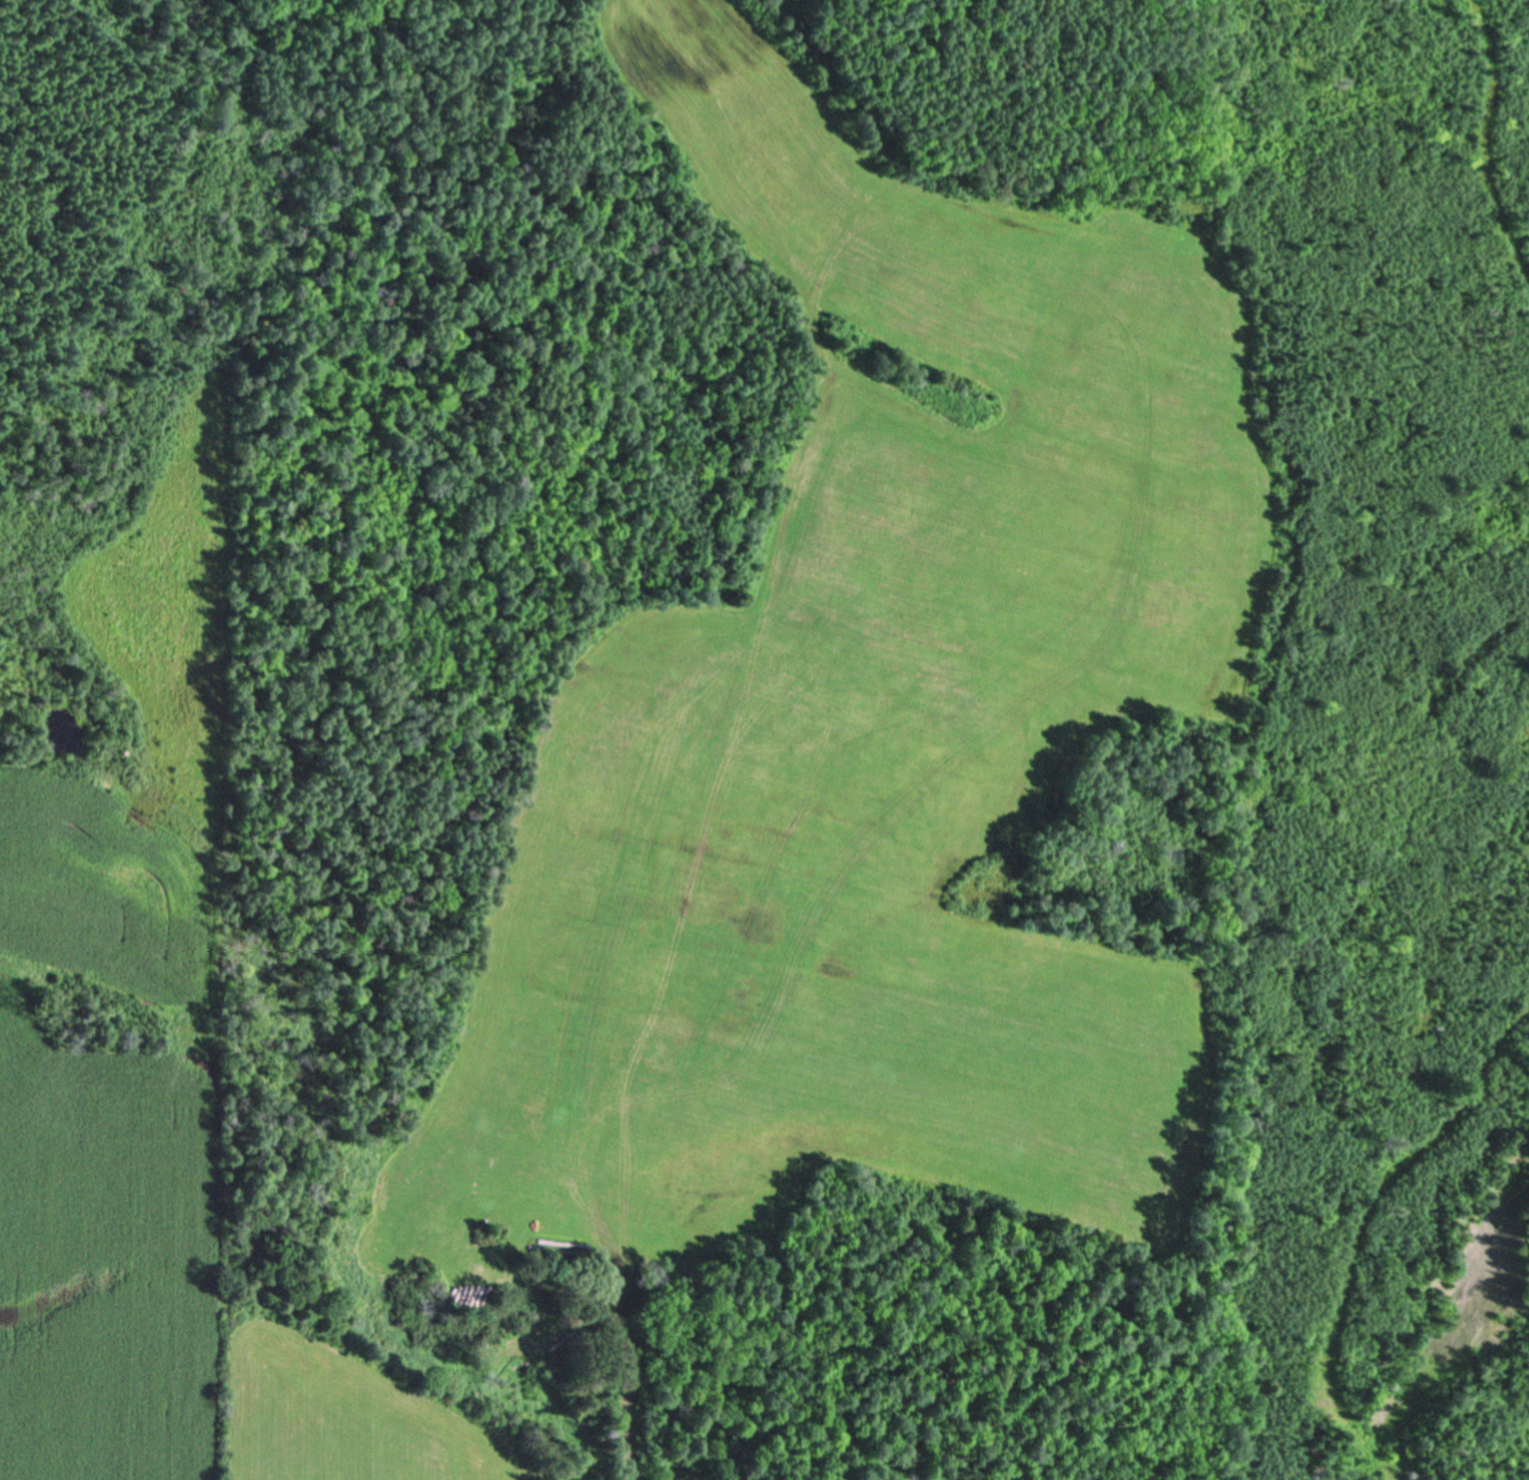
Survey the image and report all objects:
road: (623, 1336)

